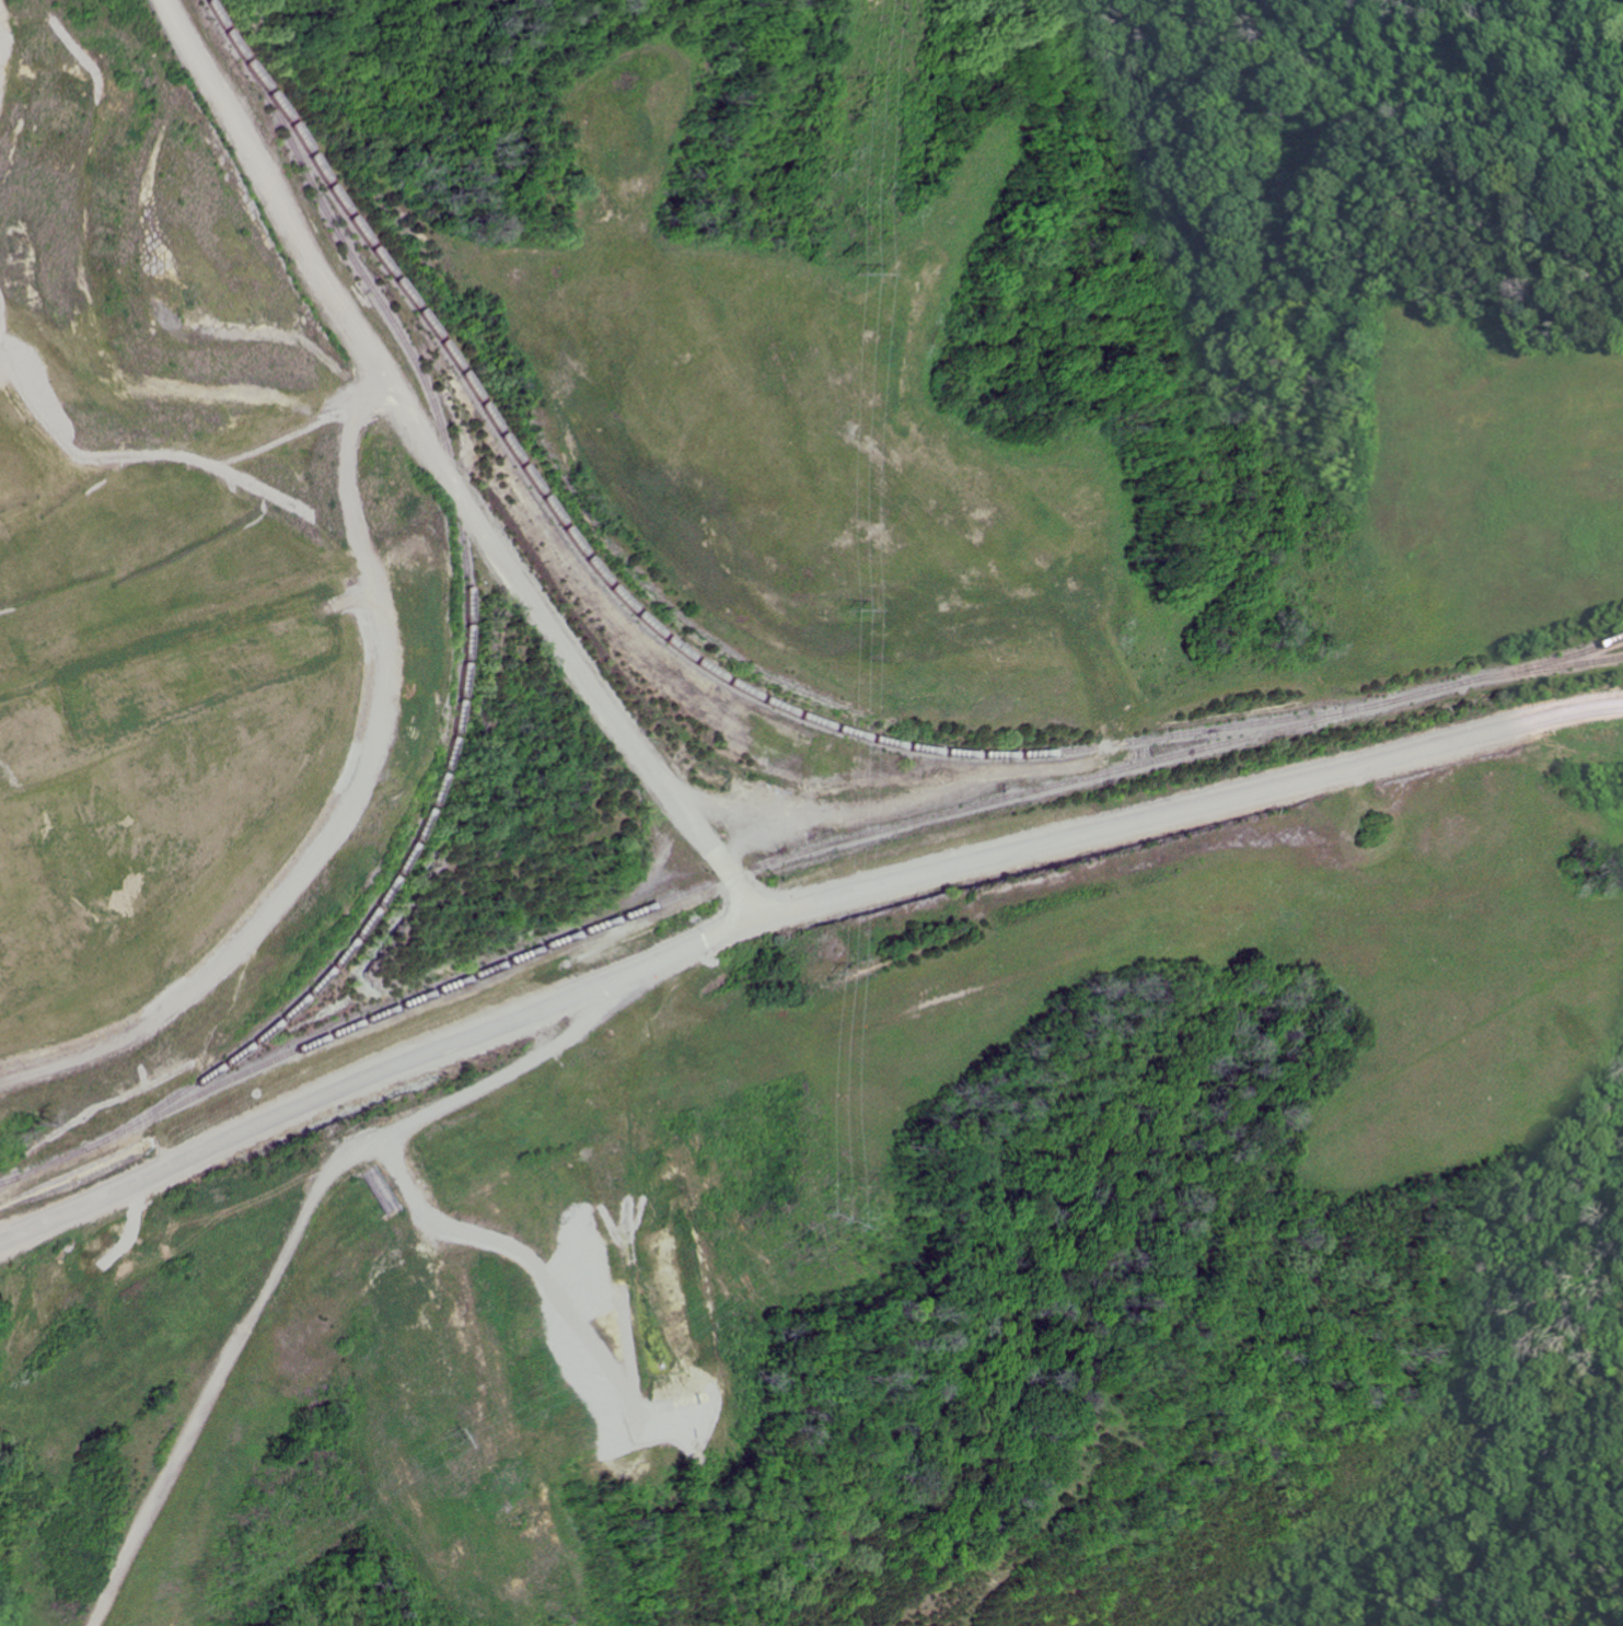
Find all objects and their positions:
power tower: (862, 272)
road: (452, 463)
power tower: (851, 608)
railway: (653, 611)
railway: (1558, 658)
railway: (472, 713)
road: (1101, 828)
railway: (845, 839)
power tower: (838, 975)
road: (294, 1112)
power tower: (827, 1216)
road: (283, 1253)
power tower: (451, 1435)

